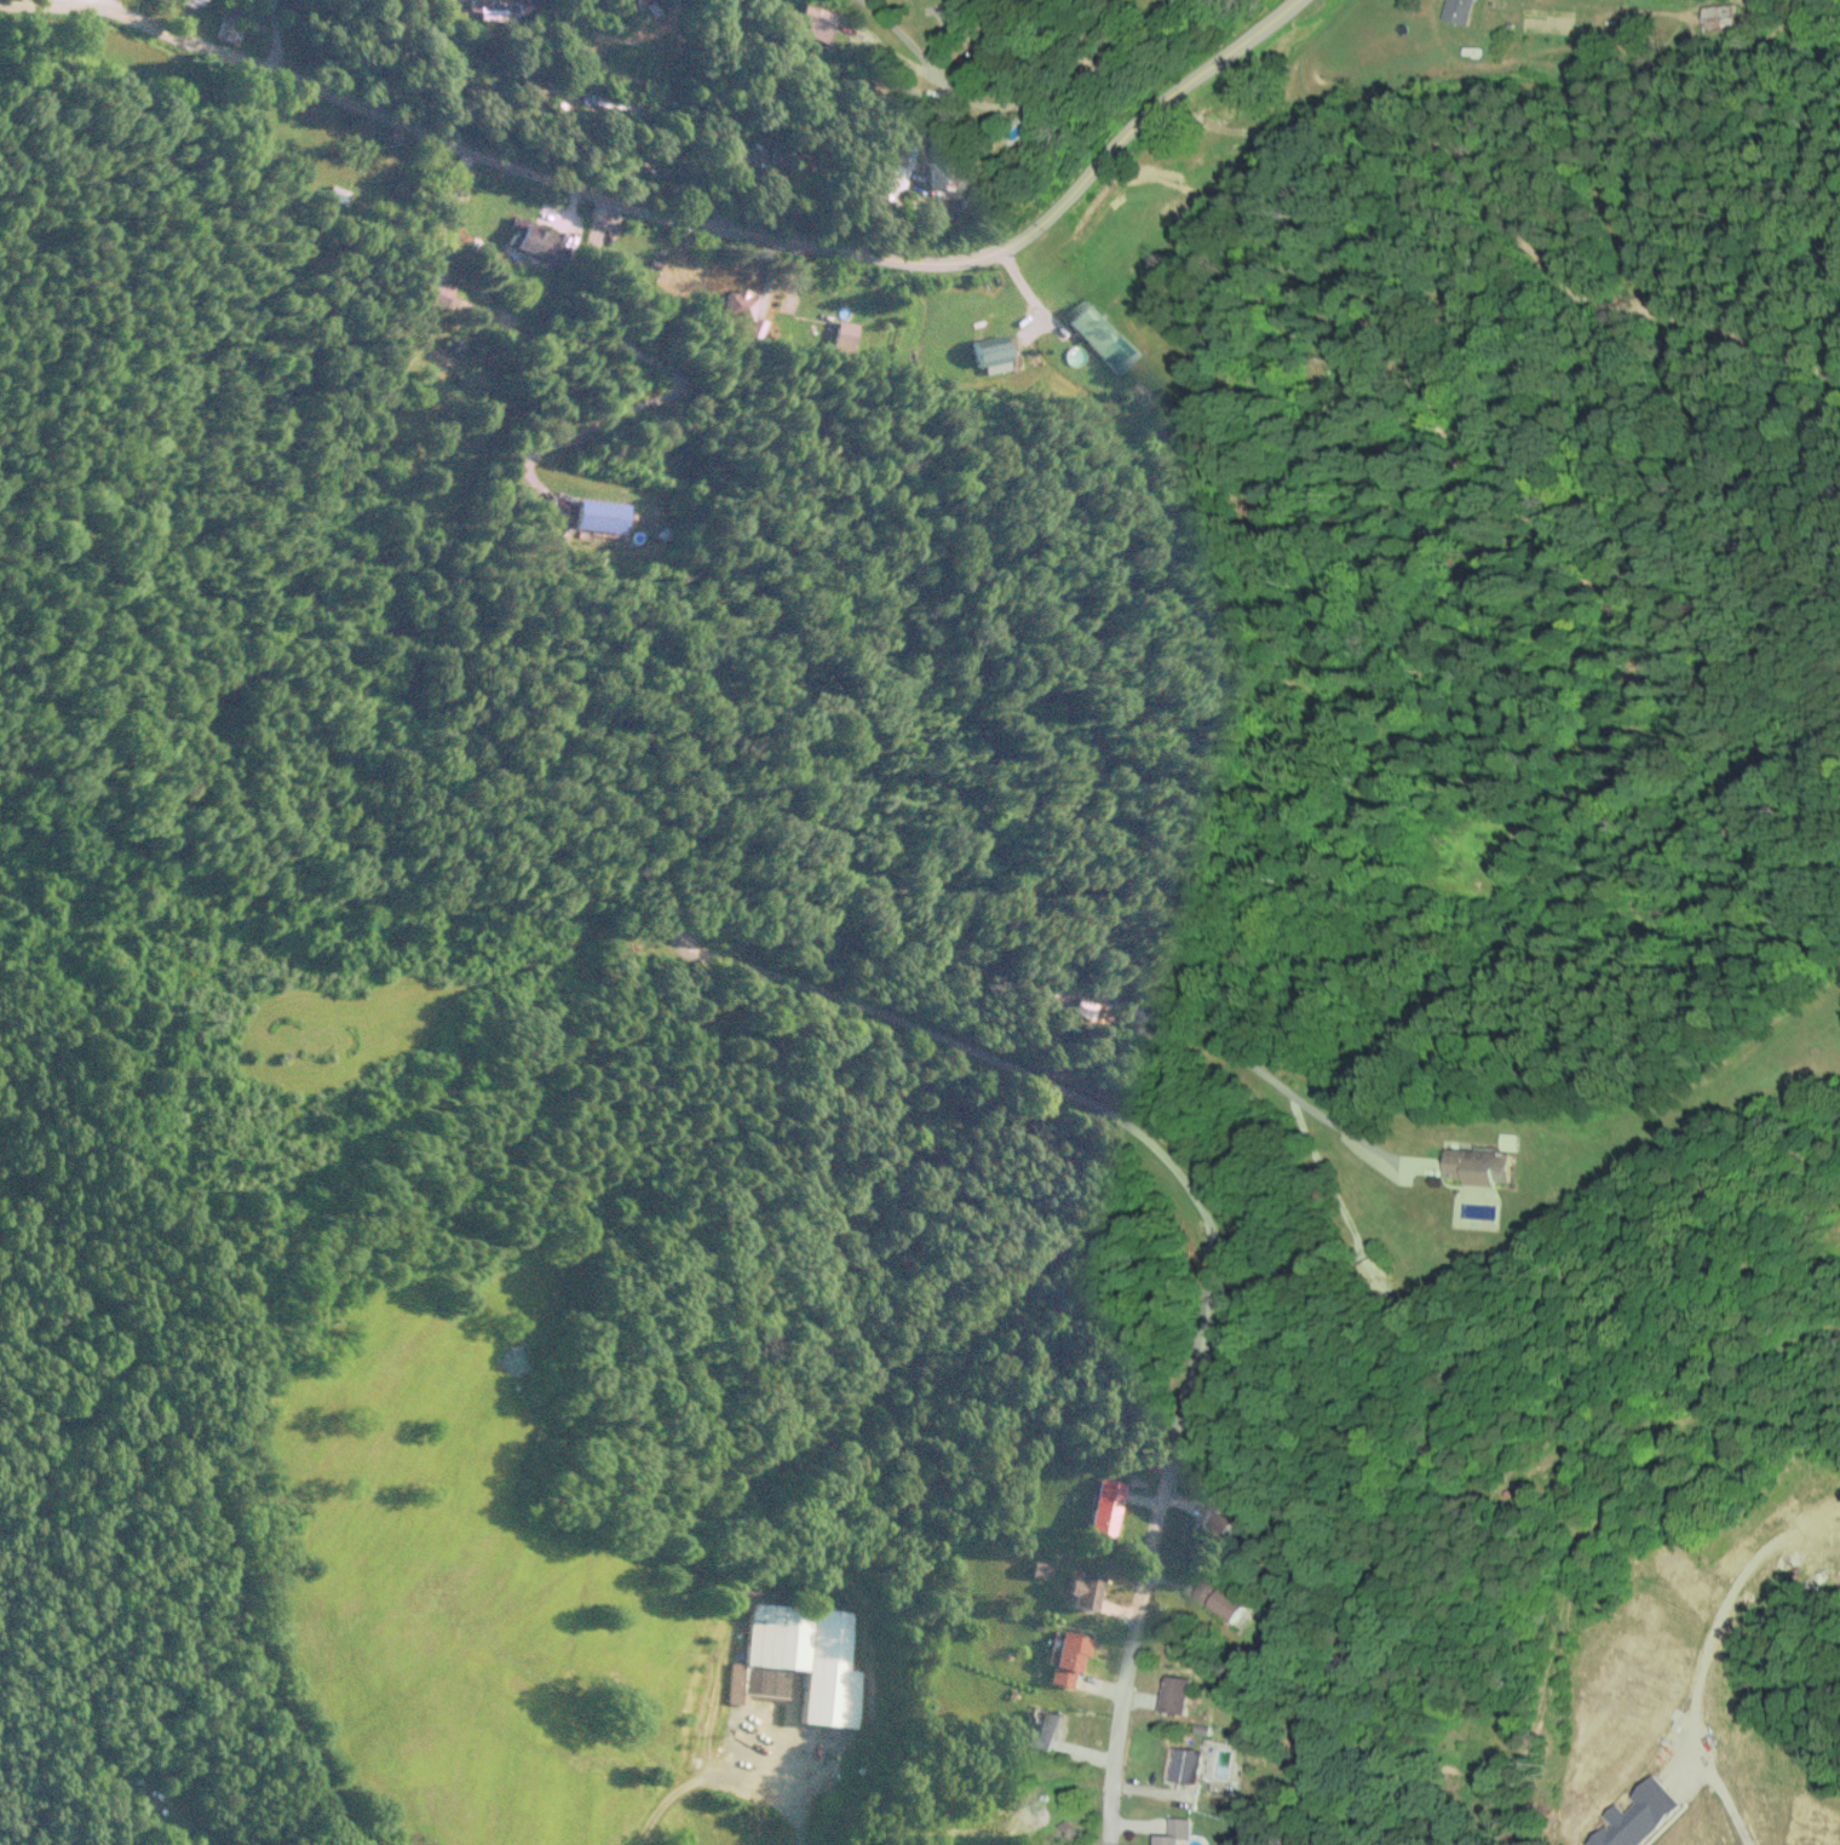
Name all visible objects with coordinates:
road: (80, 1)
road: (90, 1)
building: (190, 1)
building: (488, 8)
building: (1460, 11)
road: (943, 12)
building: (1718, 17)
building: (813, 21)
road: (278, 38)
road: (1352, 46)
building: (983, 47)
road: (1010, 88)
building: (625, 107)
road: (668, 121)
building: (788, 156)
building: (936, 156)
building: (887, 162)
building: (396, 183)
building: (330, 201)
building: (948, 211)
road: (682, 222)
building: (531, 240)
building: (429, 288)
building: (736, 306)
building: (1100, 335)
building: (841, 337)
building: (988, 354)
road: (550, 472)
building: (598, 515)
road: (735, 930)
building: (1080, 1007)
building: (1477, 1166)
building: (1103, 1506)
building: (1213, 1522)
road: (1150, 1535)
building: (1082, 1591)
building: (1219, 1599)
building: (1064, 1657)
building: (794, 1659)
building: (1175, 1694)
building: (1046, 1729)
building: (1186, 1765)
building: (1635, 1815)
building: (1173, 1832)

